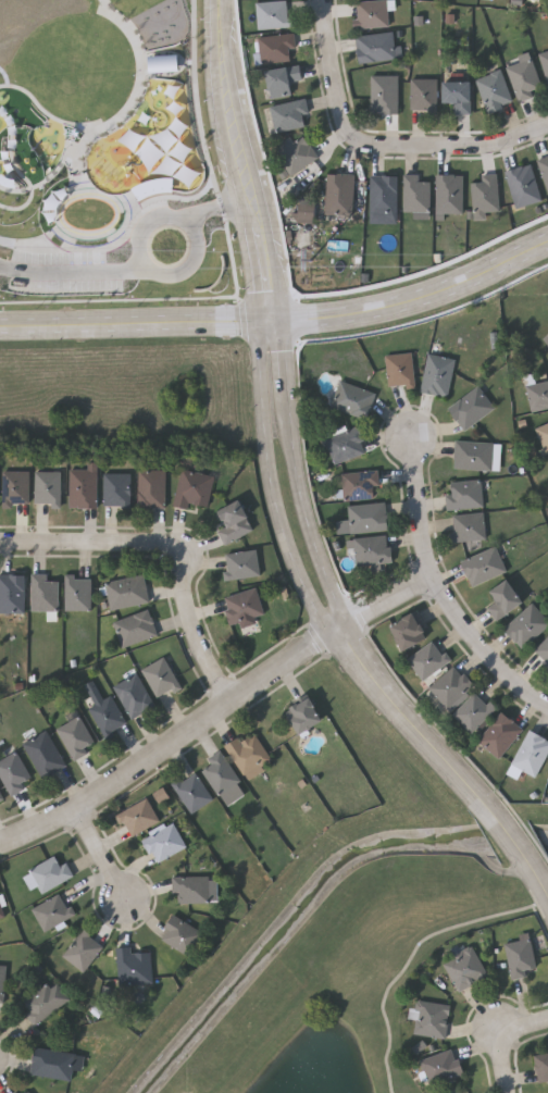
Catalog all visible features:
building: (273, 14)
building: (370, 14)
road: (228, 23)
building: (376, 47)
building: (275, 48)
road: (332, 74)
building: (282, 79)
building: (523, 79)
building: (494, 91)
building: (384, 94)
building: (423, 95)
building: (458, 96)
building: (289, 115)
road: (456, 150)
building: (295, 152)
road: (234, 185)
road: (261, 186)
building: (522, 186)
building: (338, 194)
building: (382, 194)
building: (448, 194)
building: (414, 196)
building: (484, 196)
power tower: (312, 264)
road: (145, 271)
road: (281, 312)
road: (281, 328)
building: (398, 370)
building: (436, 375)
building: (537, 395)
building: (351, 399)
building: (470, 408)
building: (544, 439)
building: (344, 444)
building: (472, 455)
building: (358, 485)
road: (271, 486)
building: (14, 487)
building: (46, 487)
building: (80, 488)
building: (115, 488)
building: (149, 488)
building: (191, 489)
road: (300, 494)
building: (463, 495)
building: (362, 519)
building: (233, 522)
building: (466, 527)
road: (90, 546)
building: (371, 550)
building: (240, 564)
building: (482, 566)
road: (440, 591)
building: (125, 592)
building: (11, 593)
building: (42, 593)
building: (76, 593)
building: (503, 600)
road: (381, 604)
building: (242, 610)
building: (525, 625)
building: (133, 628)
road: (198, 630)
building: (409, 632)
road: (345, 642)
building: (427, 659)
building: (159, 676)
building: (450, 686)
building: (132, 695)
building: (473, 711)
building: (105, 716)
building: (303, 716)
building: (499, 735)
building: (74, 737)
road: (170, 747)
building: (531, 754)
building: (42, 755)
building: (248, 755)
road: (454, 771)
building: (13, 773)
building: (222, 779)
building: (191, 793)
building: (0, 797)
building: (137, 817)
building: (163, 842)
road: (102, 855)
building: (50, 872)
building: (191, 889)
building: (51, 911)
building: (1, 912)
building: (182, 934)
building: (83, 949)
building: (519, 955)
building: (134, 966)
building: (464, 968)
building: (1, 981)
building: (43, 1002)
building: (429, 1017)
road: (496, 1038)
building: (54, 1063)
building: (441, 1066)
building: (541, 1067)
building: (13, 1092)
building: (26, 1092)
building: (32, 1092)

